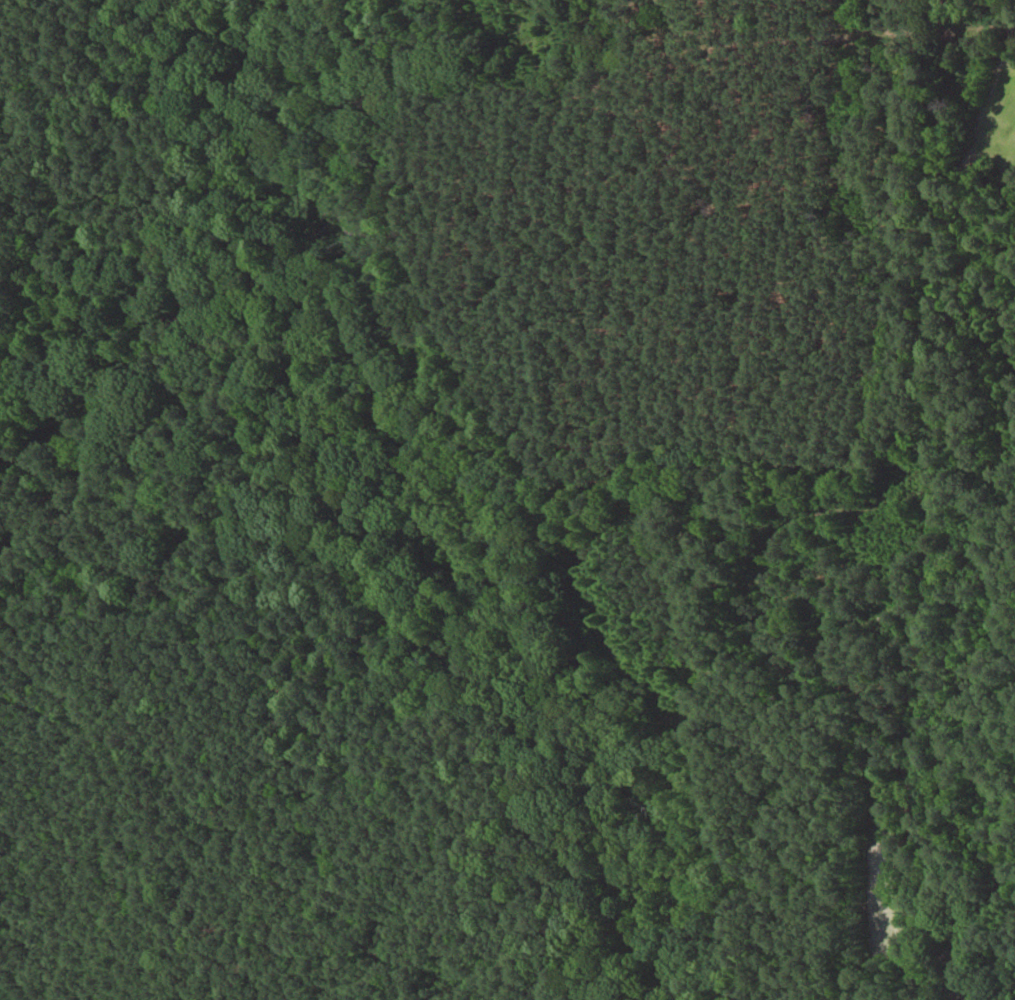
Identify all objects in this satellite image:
road: (932, 502)

